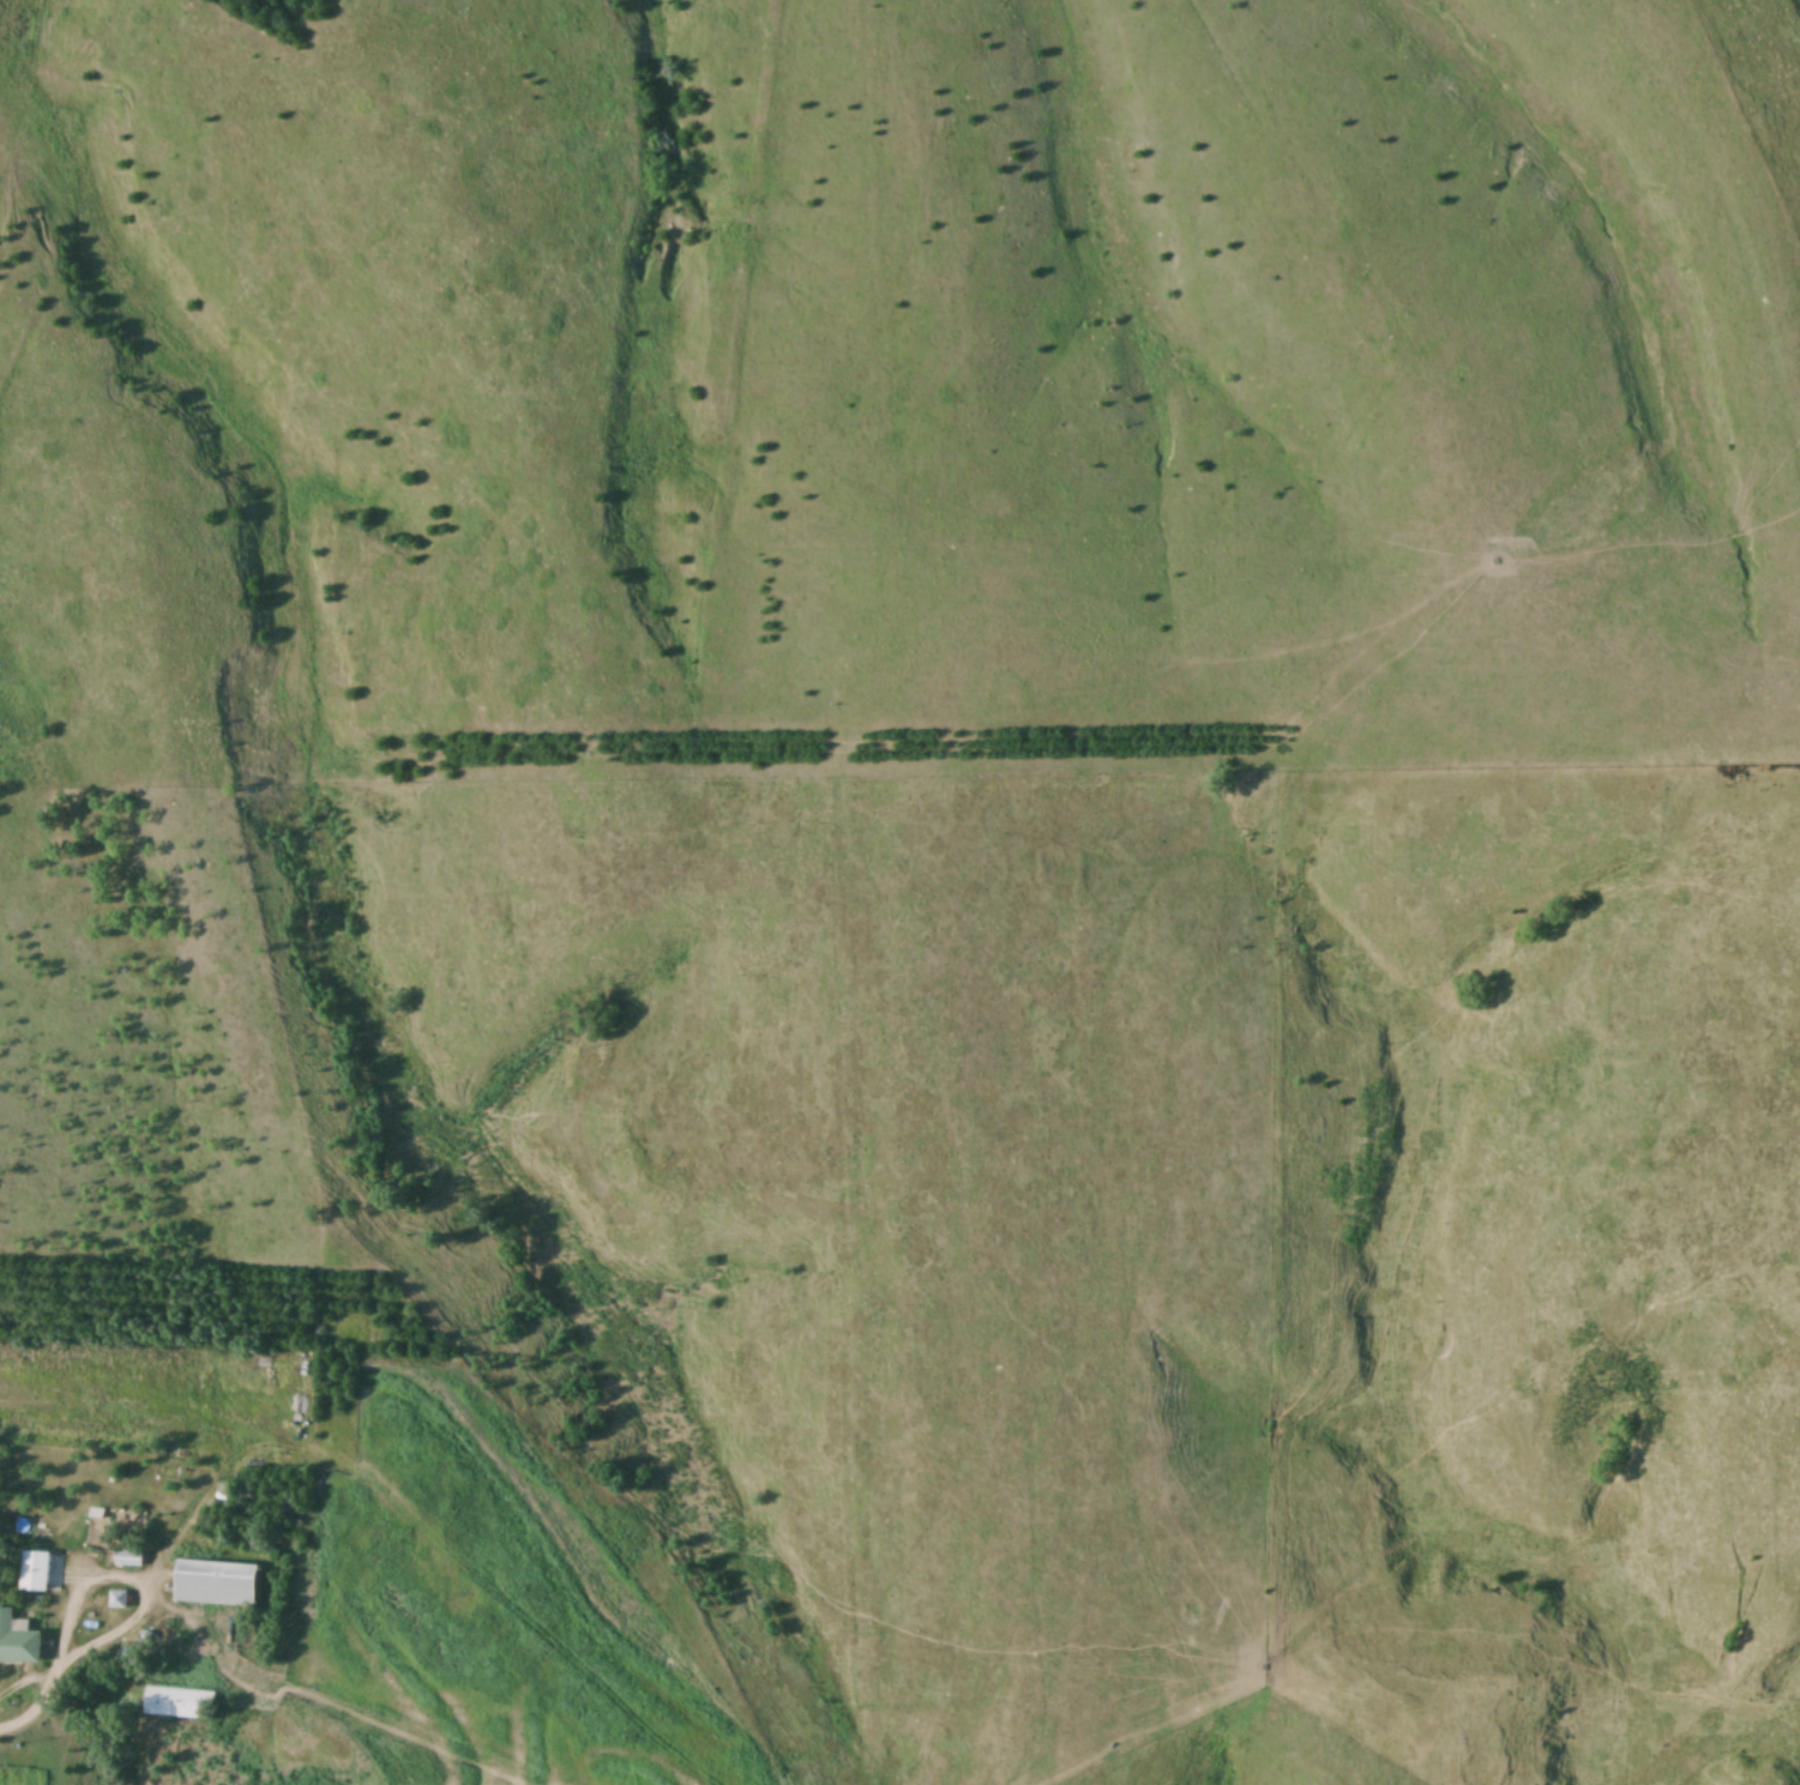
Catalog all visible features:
building: (42, 1572)
road: (102, 1579)
building: (222, 1584)
building: (20, 1640)
road: (42, 1700)
building: (186, 1703)

